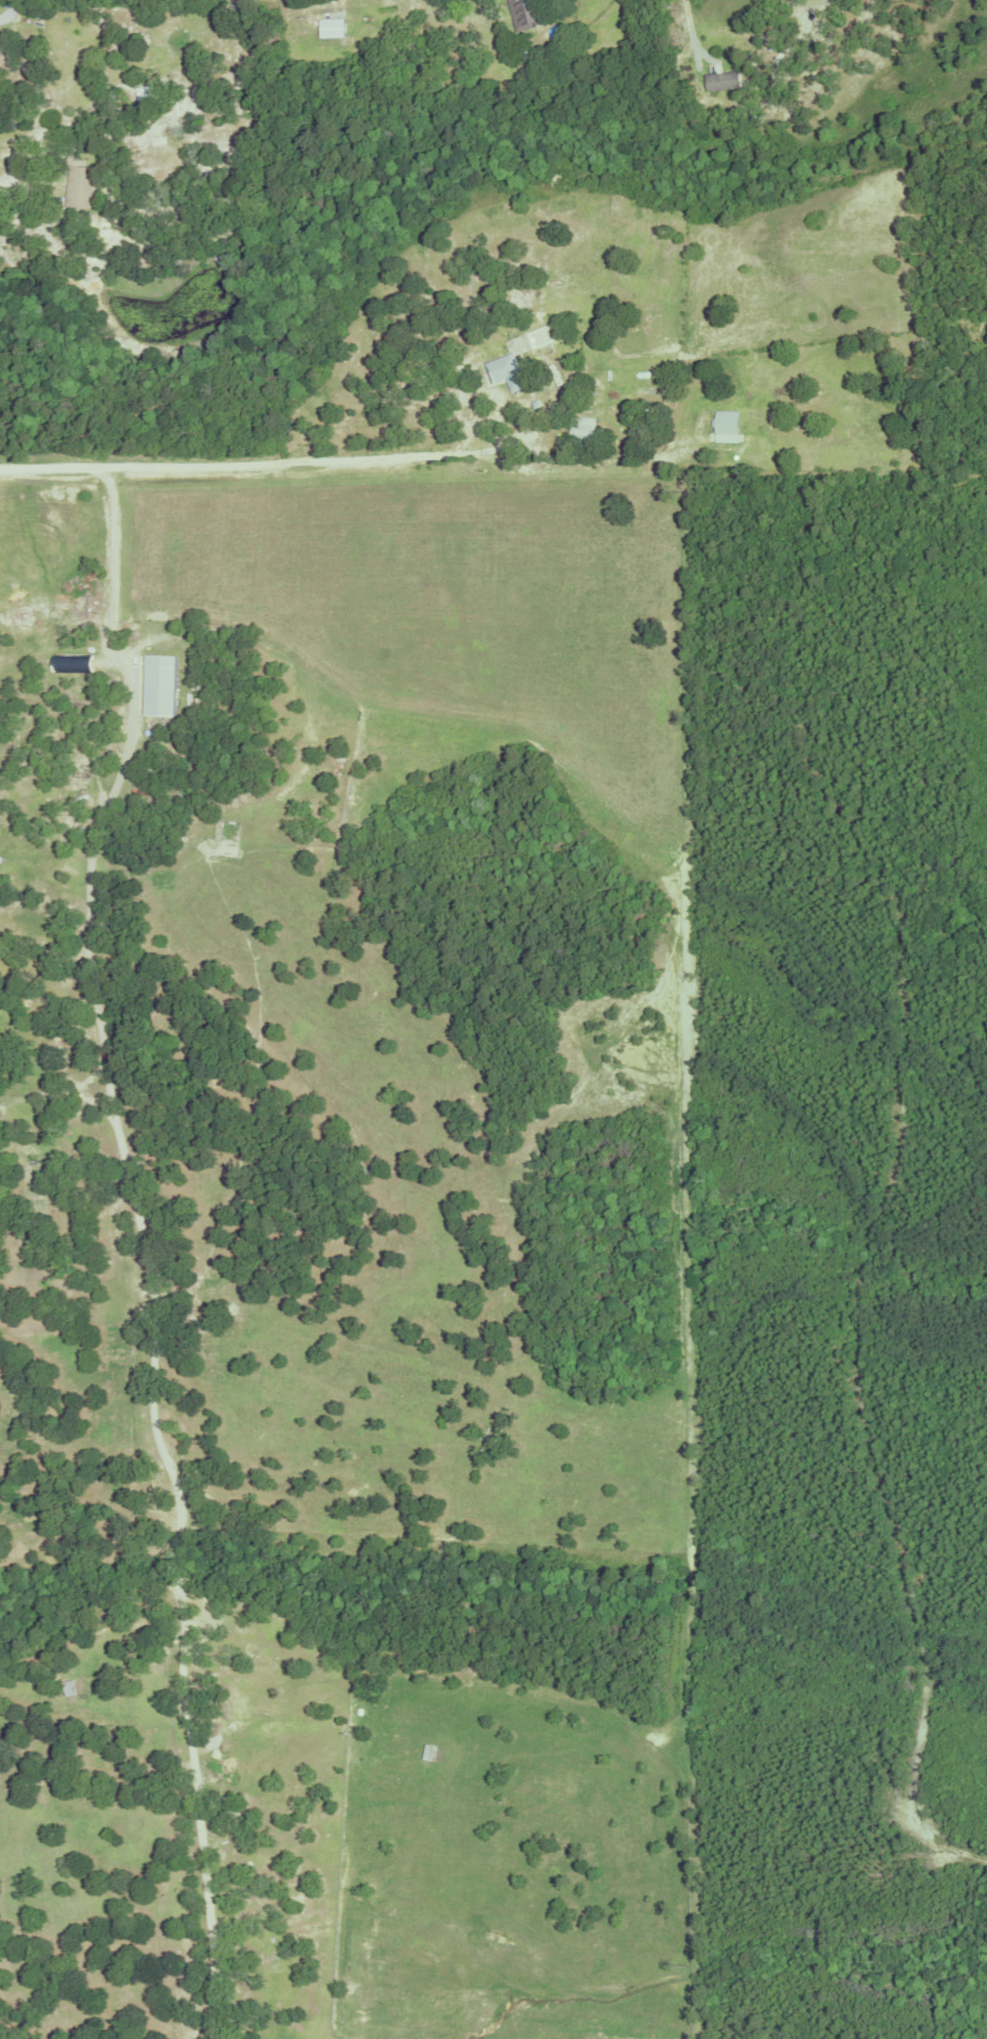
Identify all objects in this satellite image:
building: (524, 13)
building: (334, 28)
road: (689, 30)
building: (540, 45)
building: (699, 80)
building: (719, 80)
building: (146, 90)
building: (695, 107)
building: (107, 117)
road: (11, 155)
building: (81, 184)
building: (505, 370)
building: (534, 402)
building: (580, 427)
building: (727, 427)
road: (259, 463)
building: (72, 664)
building: (161, 685)
road: (145, 1244)

